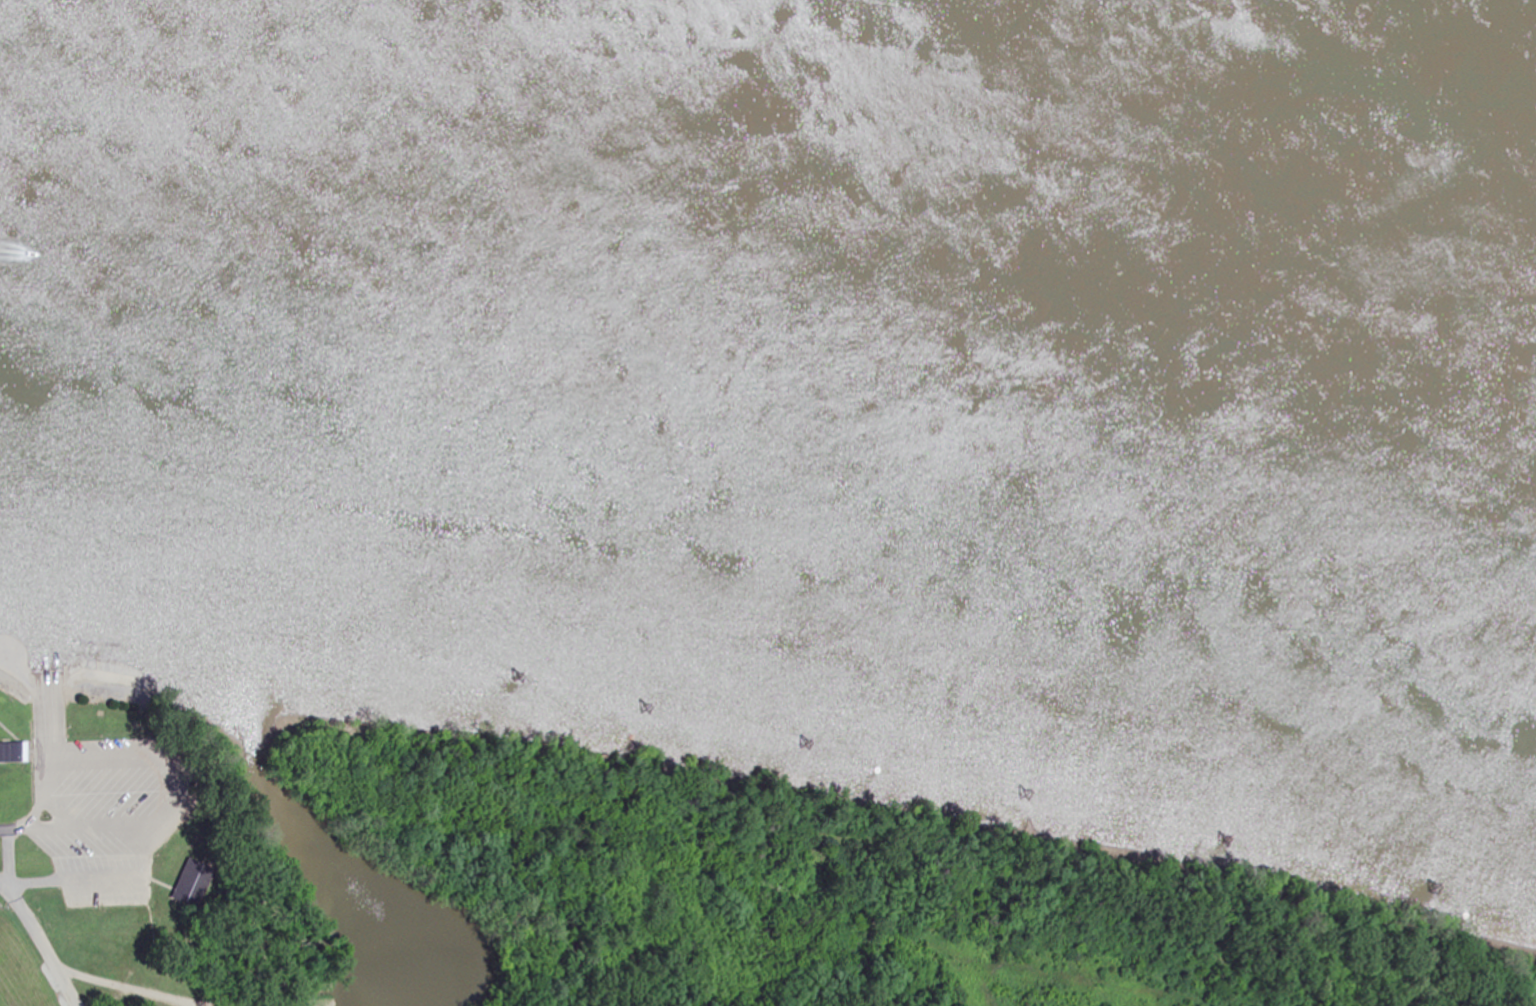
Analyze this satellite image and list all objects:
river: (770, 297)
building: (11, 753)
building: (190, 882)
road: (38, 945)
road: (131, 986)

